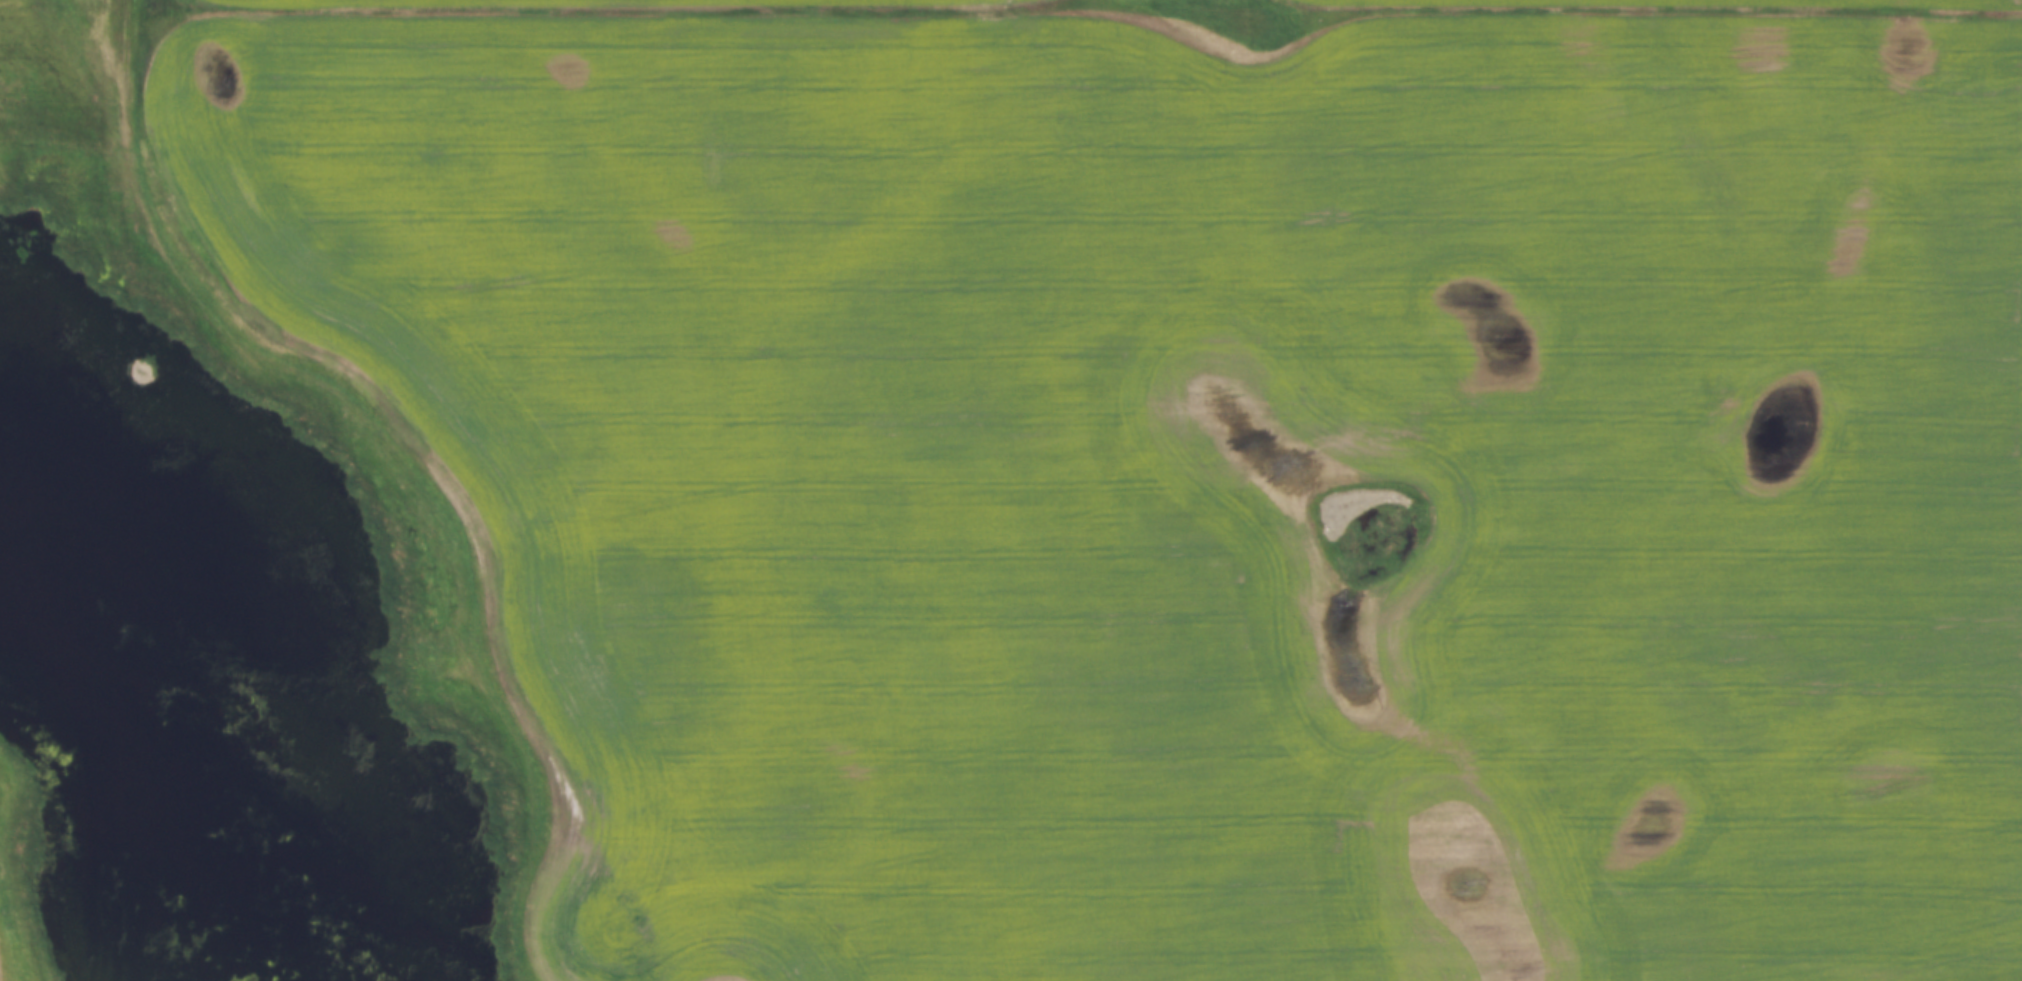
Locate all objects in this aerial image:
road: (362, 465)

